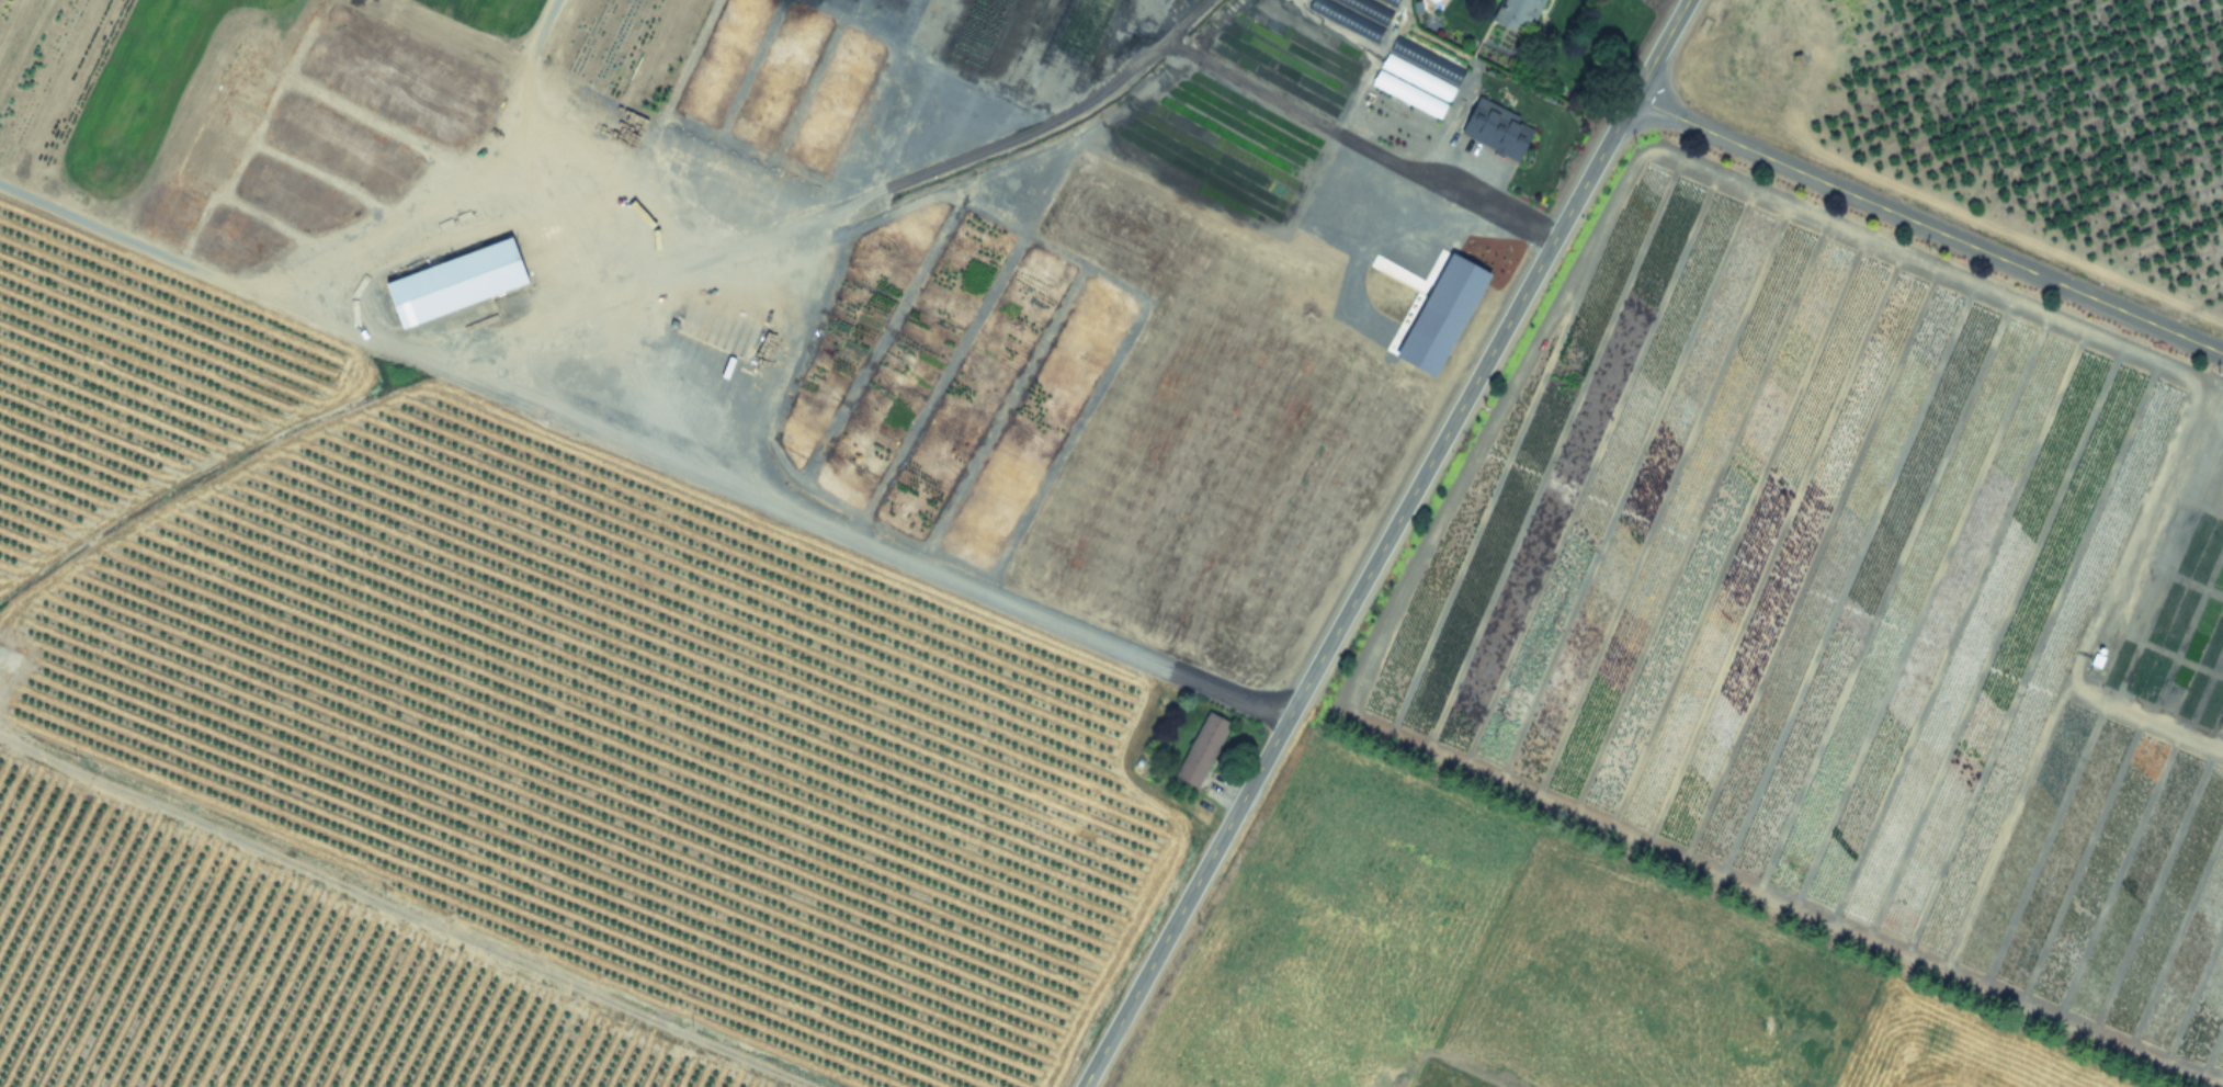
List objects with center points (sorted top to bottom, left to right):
building: (1518, 13)
road: (1354, 147)
road: (872, 203)
road: (1927, 226)
road: (170, 257)
building: (452, 282)
road: (991, 284)
crop: (671, 503)
road: (813, 523)
road: (1384, 543)
crop: (1829, 608)
building: (1201, 749)

